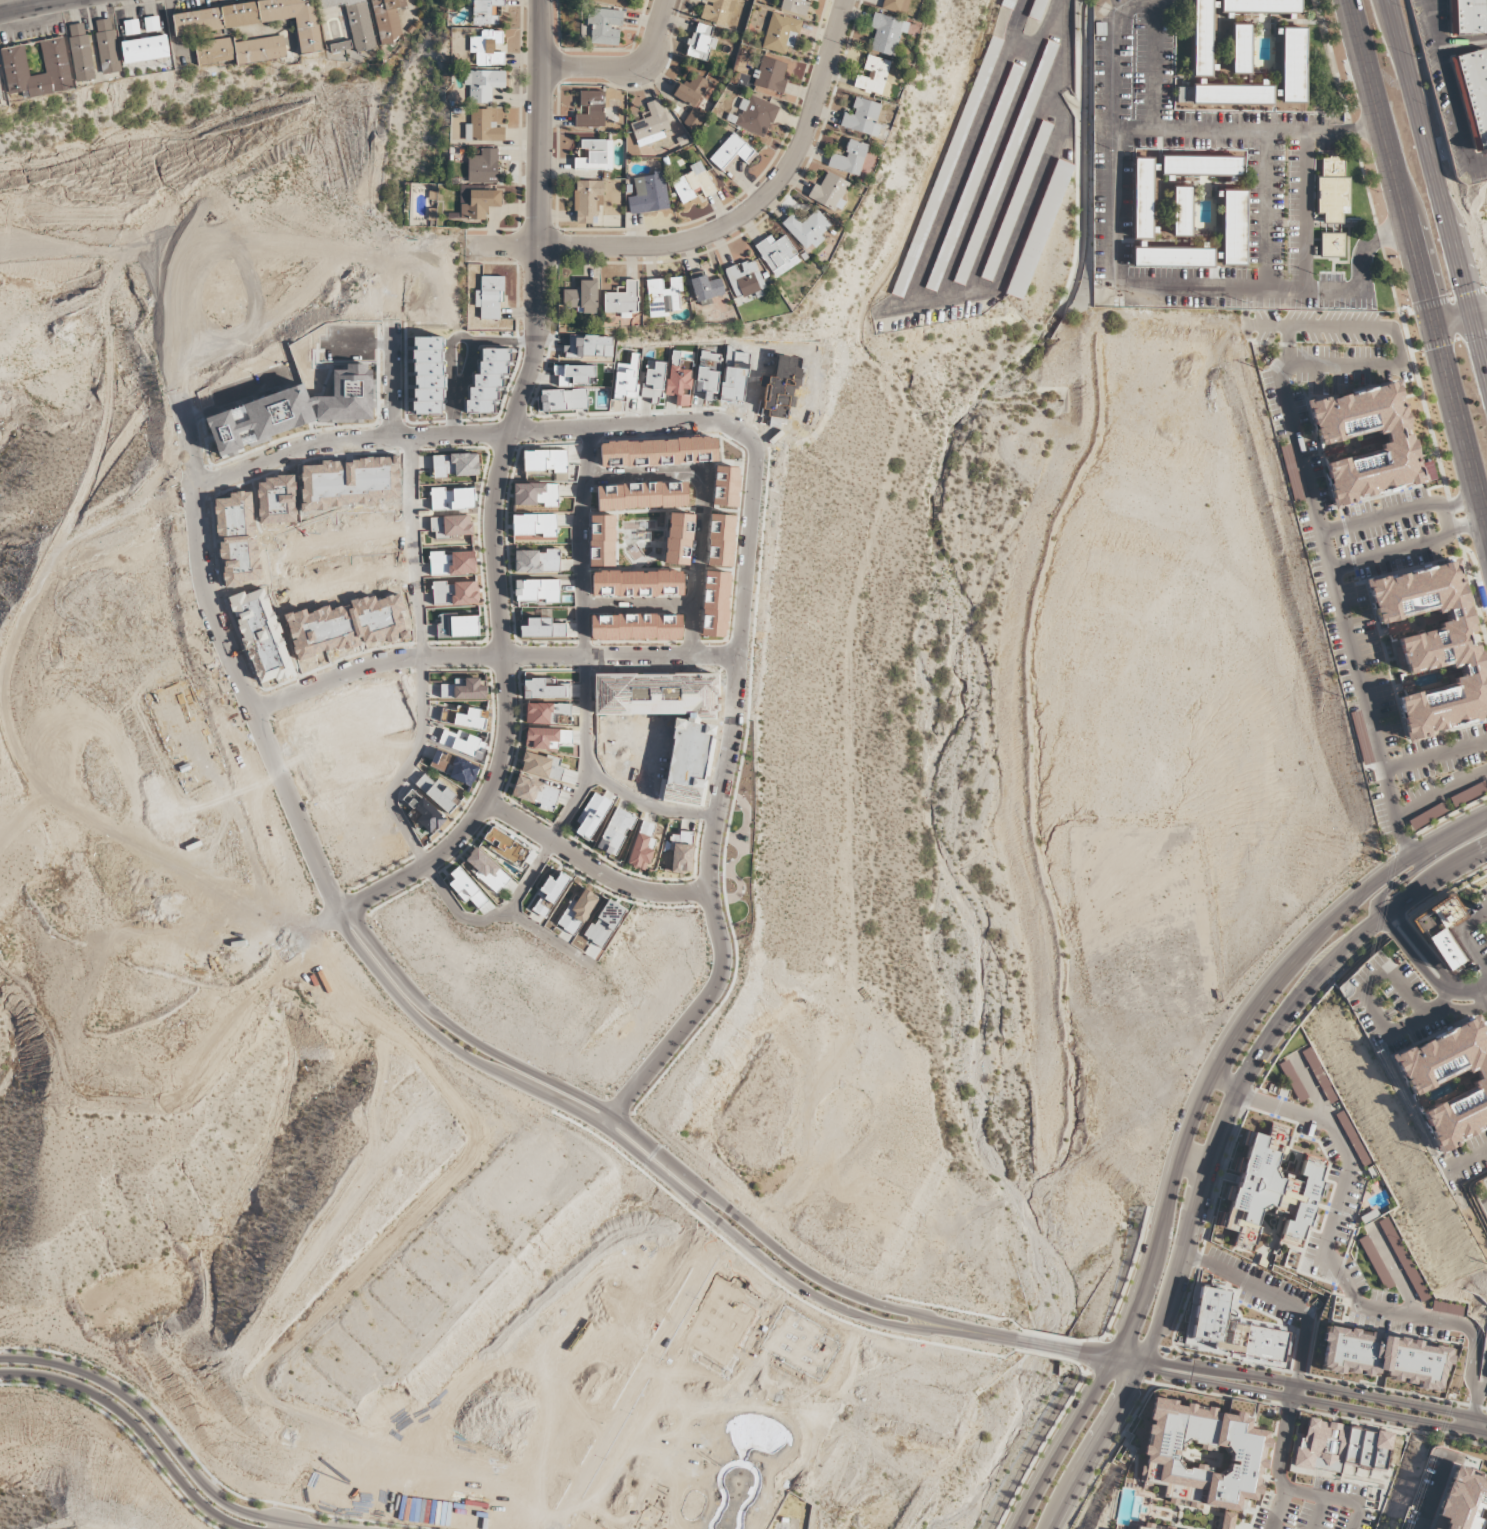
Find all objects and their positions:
building: (610, 2)
building: (1006, 4)
road: (39, 6)
building: (894, 6)
building: (1262, 6)
building: (795, 7)
building: (716, 10)
building: (1038, 10)
building: (485, 12)
building: (1470, 16)
building: (255, 19)
building: (386, 20)
building: (354, 22)
building: (151, 24)
building: (604, 26)
building: (131, 27)
building: (780, 33)
building: (886, 34)
building: (1200, 37)
building: (700, 42)
road: (1024, 45)
building: (106, 46)
building: (340, 46)
building: (487, 48)
building: (1240, 48)
building: (144, 49)
building: (238, 50)
building: (79, 52)
building: (55, 64)
road: (1152, 65)
building: (1294, 65)
road: (630, 72)
building: (770, 75)
building: (872, 75)
road: (1448, 81)
building: (483, 84)
building: (690, 90)
building: (1225, 94)
building: (1473, 94)
building: (591, 110)
building: (754, 116)
building: (862, 118)
building: (694, 119)
building: (651, 125)
building: (485, 126)
road: (1245, 130)
road: (1110, 133)
road: (996, 150)
road: (1024, 150)
building: (731, 153)
road: (966, 154)
parking lot: (1277, 154)
building: (595, 155)
building: (849, 158)
building: (1202, 166)
building: (482, 167)
road: (1438, 184)
building: (693, 185)
building: (1331, 189)
building: (829, 192)
building: (649, 194)
building: (1143, 199)
building: (587, 200)
building: (1016, 201)
building: (478, 203)
building: (1182, 211)
road: (1266, 211)
road: (1304, 212)
road: (727, 226)
building: (1234, 228)
building: (807, 229)
building: (1039, 229)
building: (1330, 245)
road: (1011, 250)
building: (777, 255)
building: (1172, 256)
road: (1416, 265)
building: (745, 282)
building: (706, 289)
road: (1282, 292)
building: (489, 297)
building: (663, 297)
building: (581, 298)
building: (622, 300)
road: (1397, 311)
road: (1480, 312)
traffic signals: (1473, 314)
road: (1452, 319)
traffic signals: (1432, 324)
road: (1342, 328)
road: (1286, 345)
road: (453, 349)
building: (575, 375)
building: (626, 378)
building: (679, 379)
road: (395, 381)
building: (653, 383)
building: (707, 383)
building: (563, 400)
building: (1393, 439)
building: (545, 461)
building: (455, 465)
road: (494, 492)
building: (536, 494)
building: (641, 496)
building: (451, 499)
road: (1459, 502)
road: (1443, 519)
road: (749, 521)
building: (455, 526)
building: (535, 526)
road: (1465, 528)
building: (600, 541)
road: (1325, 556)
building: (537, 561)
building: (451, 563)
building: (637, 584)
building: (536, 590)
building: (455, 593)
building: (715, 604)
building: (457, 626)
building: (636, 627)
building: (542, 629)
road: (584, 639)
building: (1435, 647)
road: (489, 657)
road: (422, 659)
building: (464, 690)
building: (543, 690)
road: (250, 704)
building: (470, 720)
building: (463, 744)
road: (1434, 757)
building: (440, 761)
building: (538, 766)
building: (463, 772)
building: (436, 792)
building: (535, 793)
building: (1468, 794)
road: (1440, 795)
road: (647, 807)
building: (424, 812)
building: (1428, 815)
building: (592, 816)
building: (615, 832)
park: (737, 842)
building: (505, 846)
building: (642, 847)
building: (681, 852)
road: (591, 866)
building: (486, 869)
road: (1391, 885)
building: (465, 887)
building: (549, 895)
building: (576, 913)
road: (492, 917)
building: (605, 923)
building: (1441, 932)
road: (549, 938)
road: (1420, 947)
road: (1412, 955)
road: (1467, 990)
road: (1360, 991)
road: (1479, 1000)
road: (1441, 1007)
road: (1462, 1010)
building: (1423, 1079)
building: (1293, 1081)
road: (1225, 1083)
building: (1355, 1087)
road: (1186, 1124)
road: (630, 1128)
road: (622, 1142)
road: (1215, 1151)
road: (1466, 1163)
road: (1191, 1167)
building: (1272, 1200)
road: (1485, 1202)
road: (391, 1240)
building: (1373, 1258)
road: (1334, 1269)
building: (1227, 1335)
road: (1025, 1342)
building: (1347, 1353)
road: (1128, 1361)
building: (1414, 1366)
road: (1314, 1388)
road: (1292, 1391)
road: (1314, 1401)
road: (1471, 1424)
road: (136, 1428)
road: (123, 1430)
road: (167, 1440)
road: (439, 1447)
building: (1334, 1457)
building: (1199, 1462)
road: (198, 1463)
road: (1277, 1463)
road: (1329, 1498)
building: (1466, 1503)
road: (273, 1505)
road: (1428, 1505)
road: (271, 1518)
building: (1142, 1528)
building: (1430, 1528)

